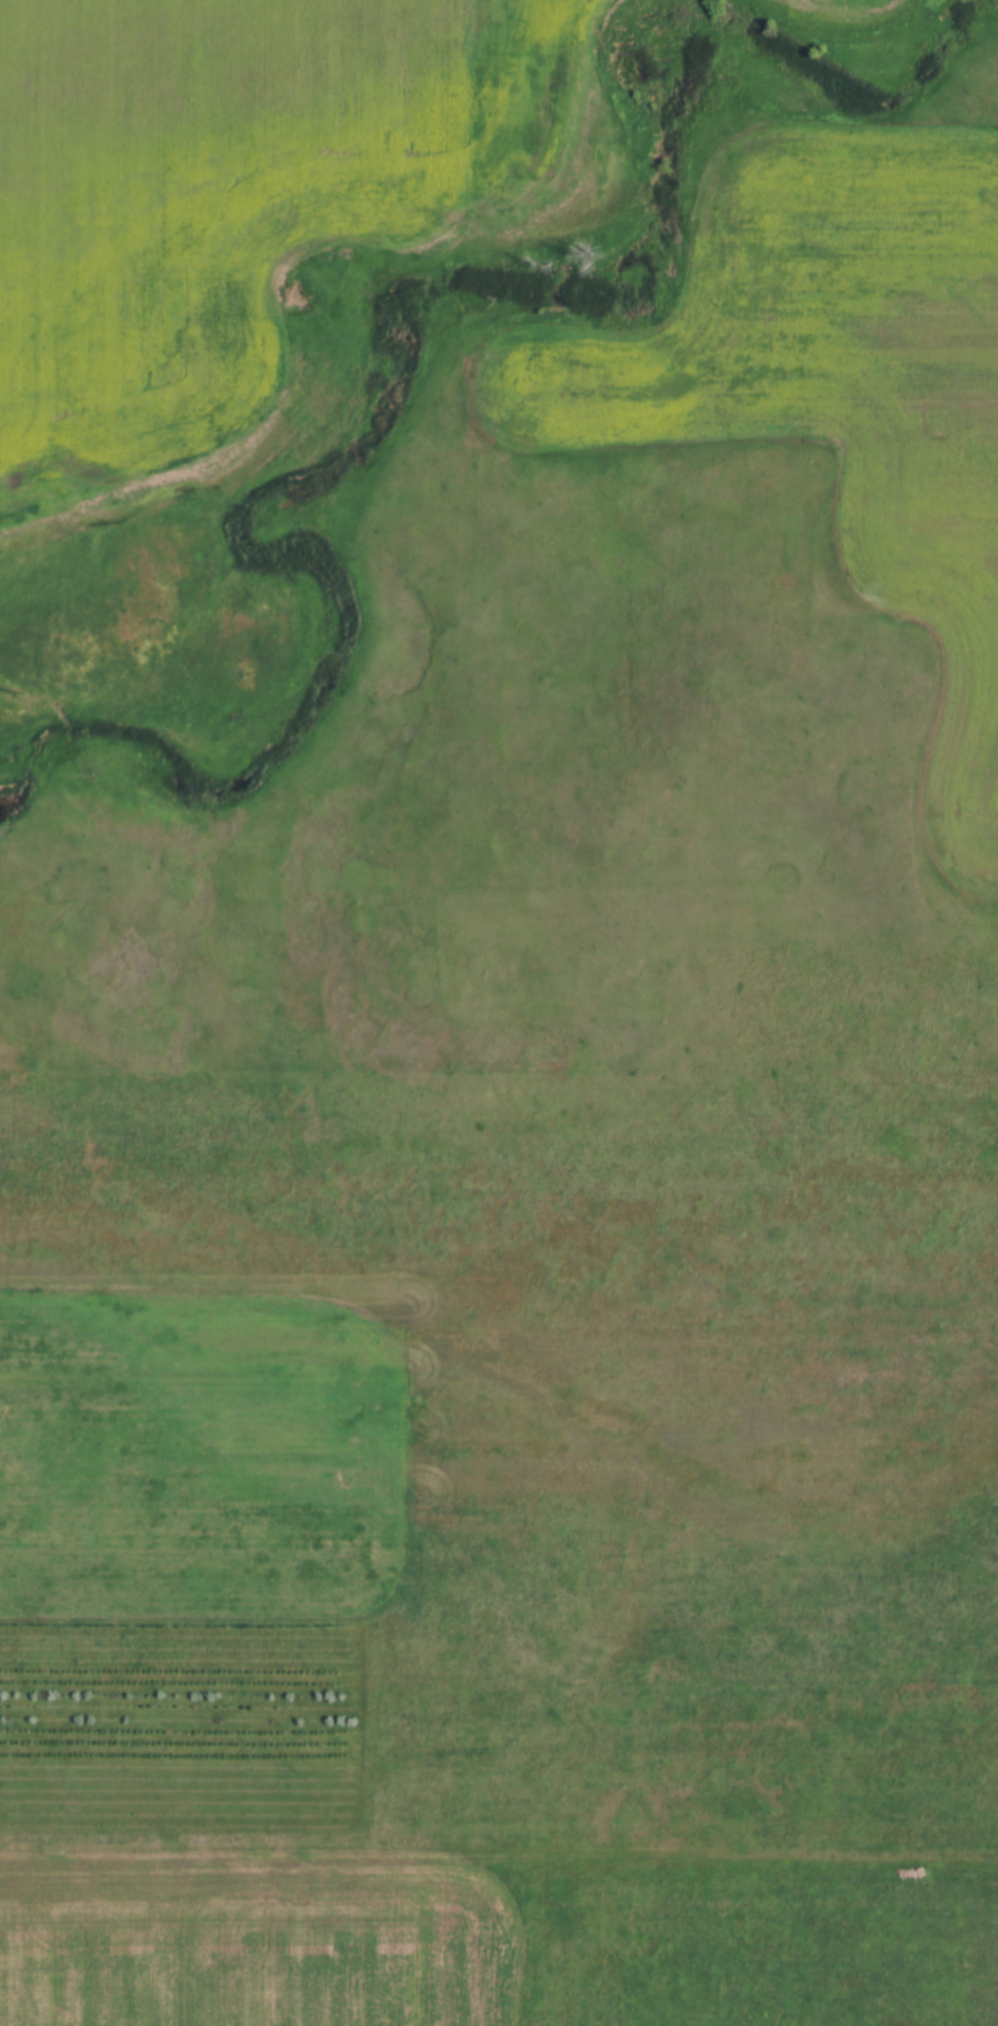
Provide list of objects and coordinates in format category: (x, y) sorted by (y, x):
road: (498, 1861)

